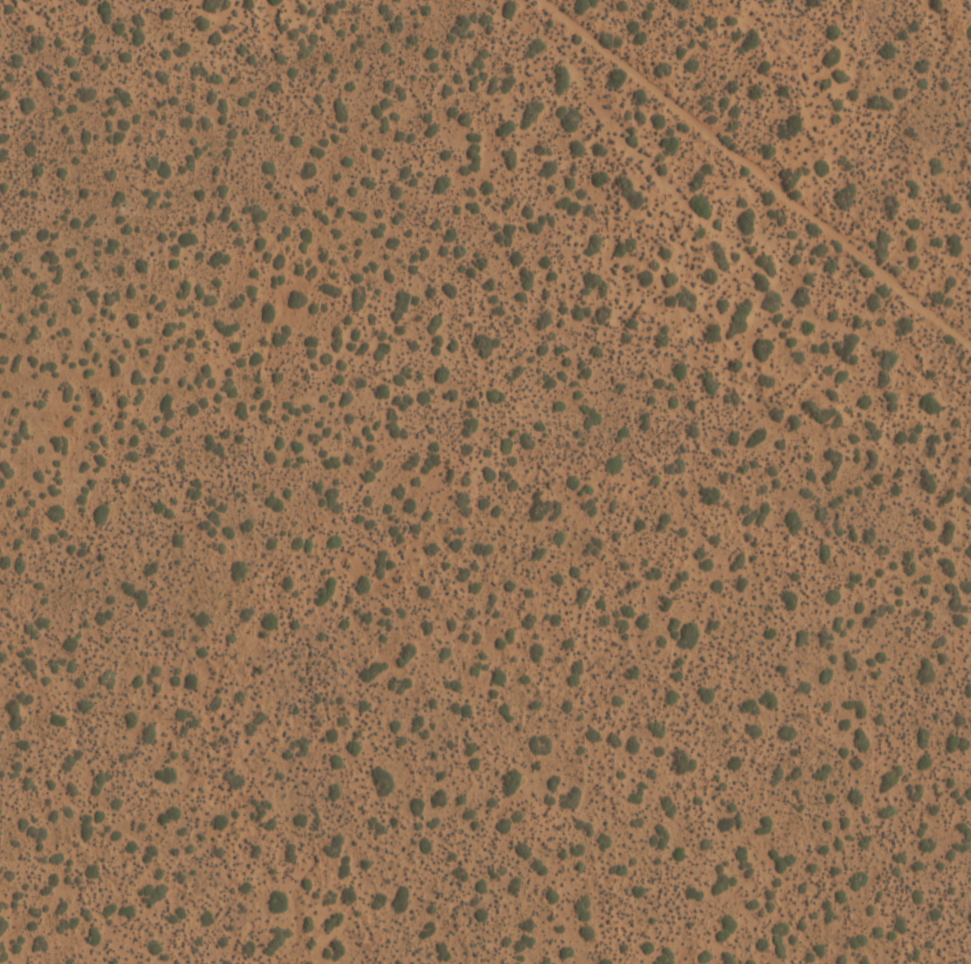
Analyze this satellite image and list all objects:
building: (882, 648)

